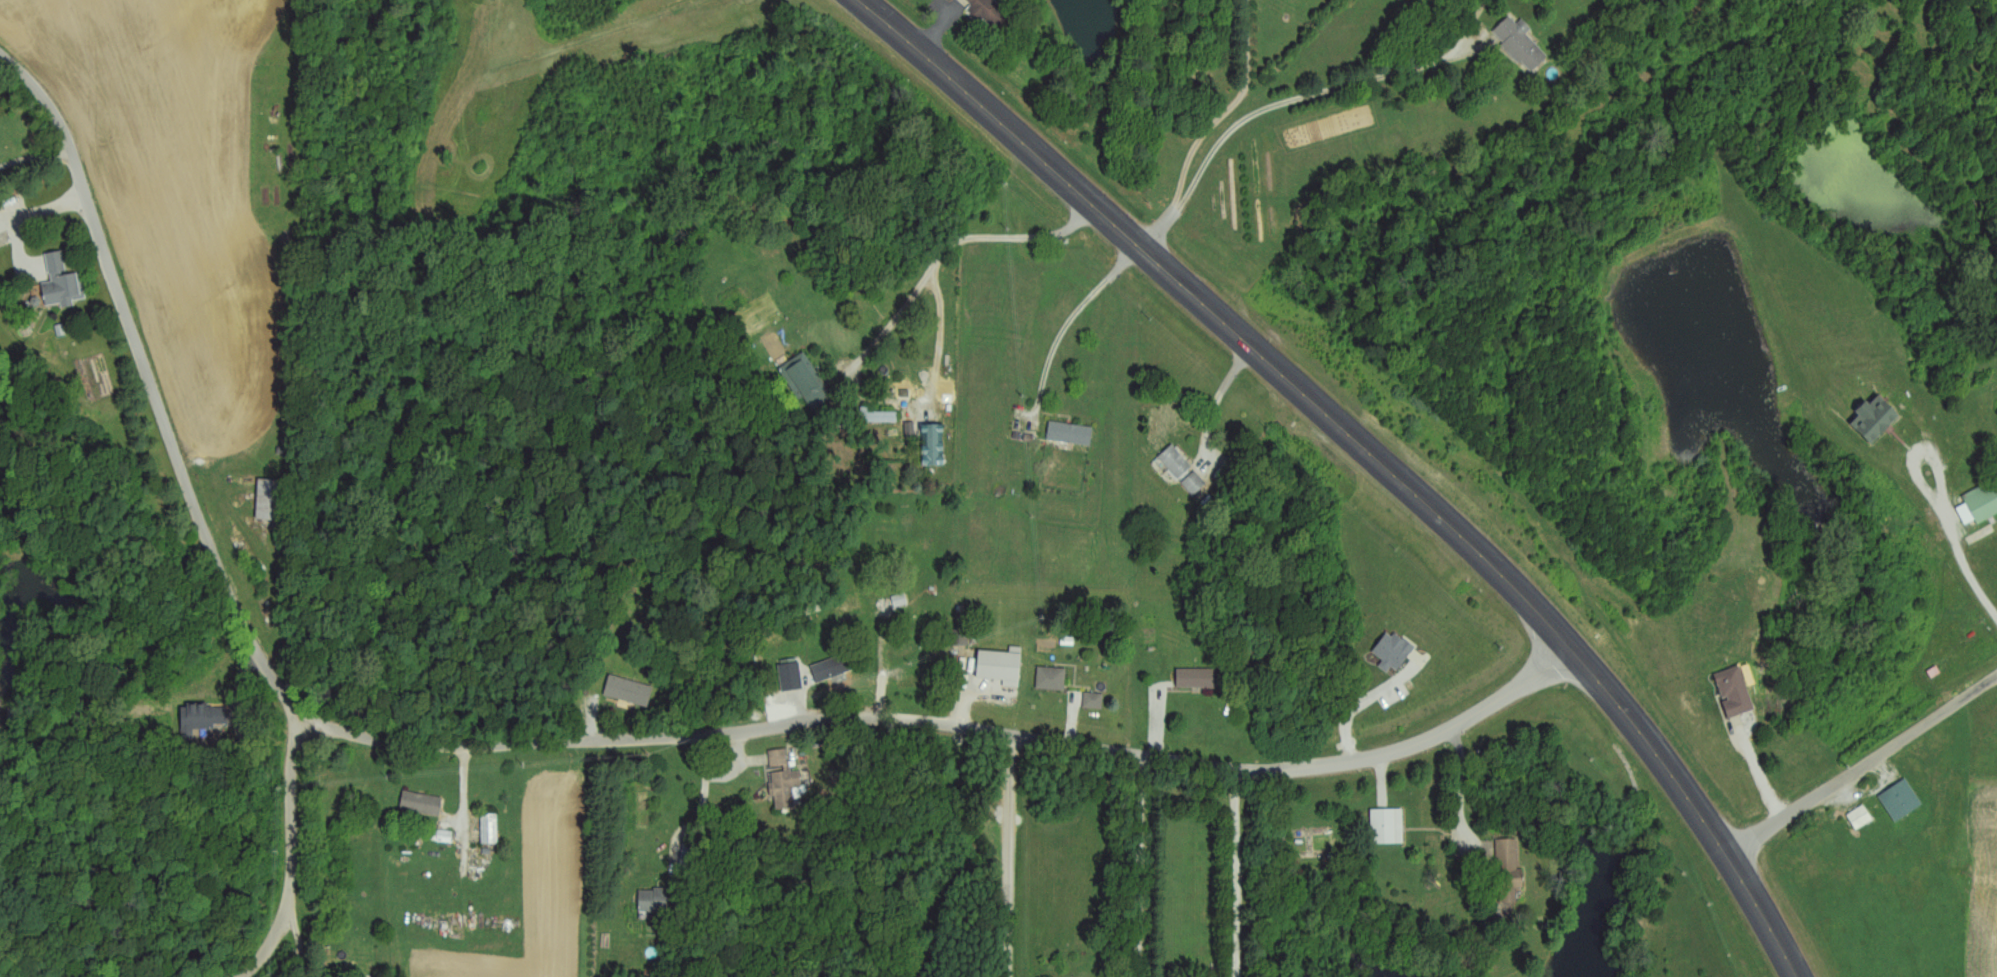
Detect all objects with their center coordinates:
building: (992, 12)
building: (1522, 43)
road: (1271, 108)
road: (1231, 110)
building: (0, 246)
road: (956, 247)
building: (63, 283)
road: (1075, 318)
building: (808, 382)
road: (1221, 400)
building: (876, 417)
building: (1072, 434)
building: (935, 446)
road: (1377, 451)
road: (1923, 458)
building: (1177, 463)
building: (1196, 484)
building: (270, 501)
building: (1984, 503)
road: (1963, 564)
building: (834, 669)
building: (792, 676)
road: (1996, 677)
building: (1053, 679)
building: (1197, 680)
building: (911, 683)
building: (630, 692)
building: (1736, 693)
building: (1095, 701)
road: (1155, 725)
road: (585, 736)
road: (1863, 765)
road: (717, 778)
building: (787, 778)
road: (1463, 786)
building: (1903, 801)
building: (423, 805)
building: (1864, 817)
building: (1389, 827)
building: (491, 830)
road: (293, 850)
road: (1011, 854)
road: (1153, 865)
road: (1241, 871)
building: (1510, 872)
building: (656, 900)

